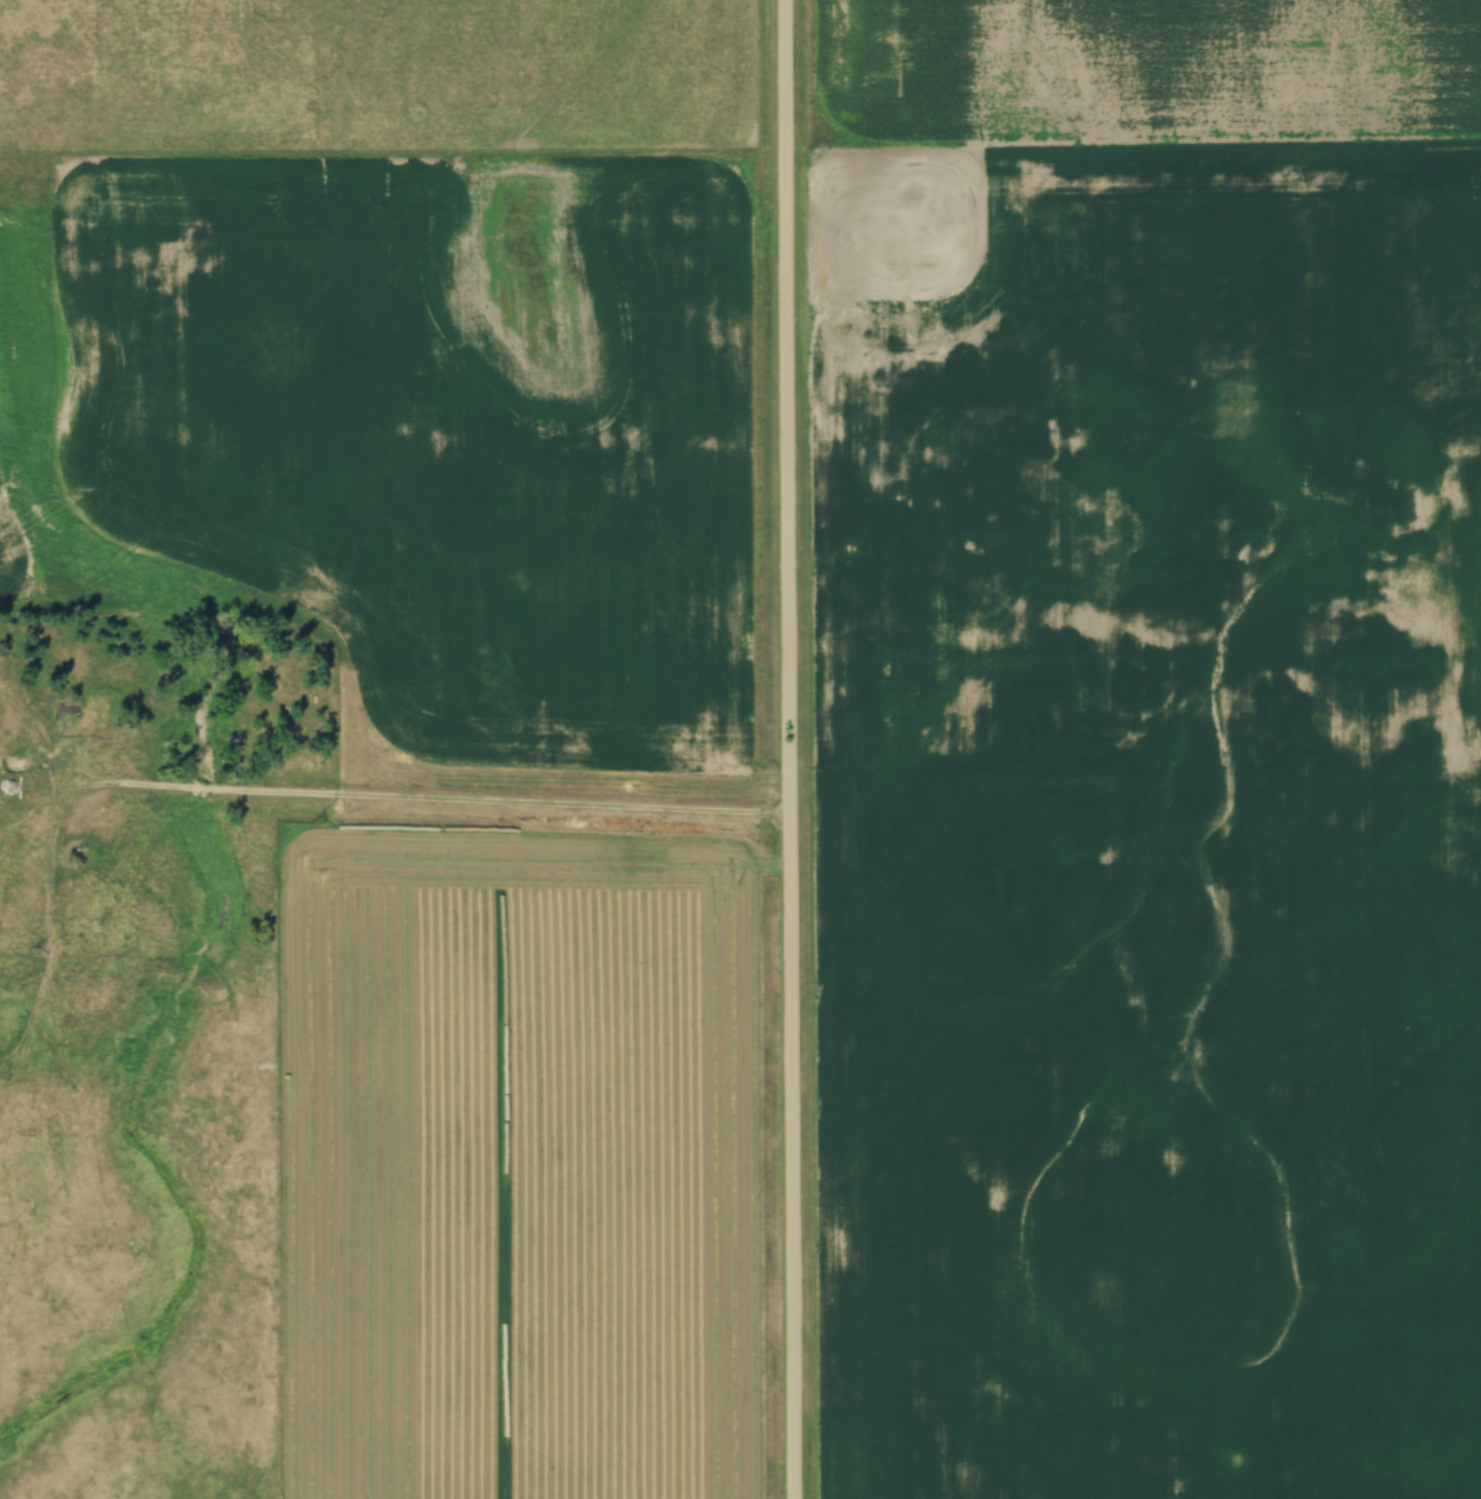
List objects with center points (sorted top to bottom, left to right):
building: (64, 710)
road: (790, 749)
road: (223, 789)
road: (560, 804)

